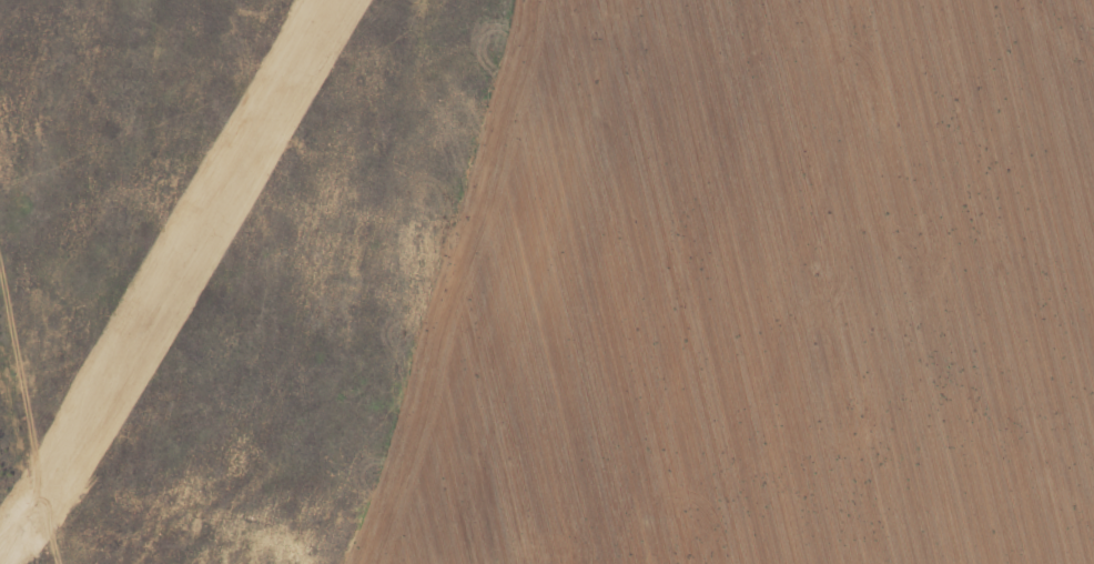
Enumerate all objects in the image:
road: (21, 443)

